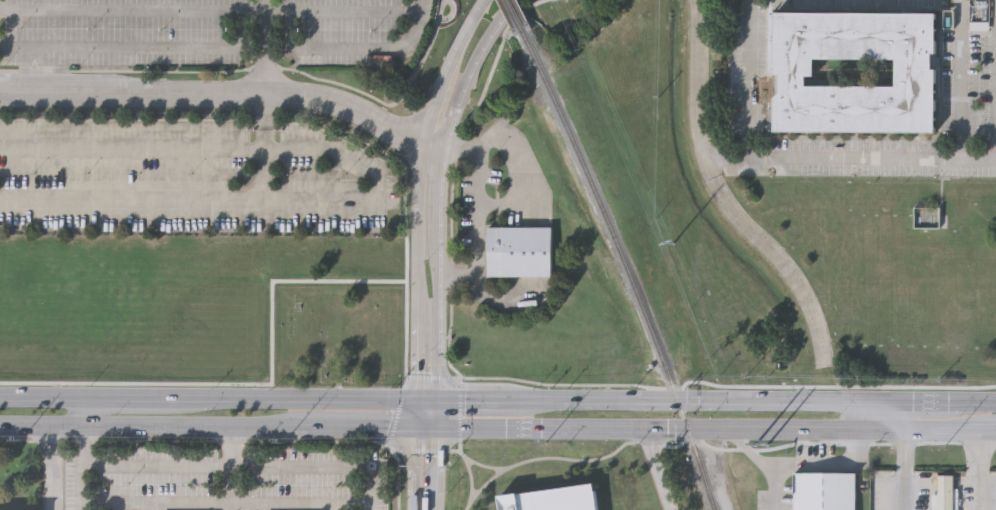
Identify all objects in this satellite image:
road: (209, 11)
railway: (513, 14)
parking lot: (208, 31)
road: (137, 46)
road: (264, 47)
road: (356, 48)
road: (426, 49)
road: (451, 66)
road: (471, 68)
road: (207, 70)
building: (915, 73)
road: (747, 79)
road: (216, 93)
road: (415, 117)
road: (437, 142)
road: (263, 149)
road: (909, 157)
road: (978, 159)
parking lot: (187, 178)
road: (419, 181)
road: (376, 188)
road: (722, 195)
road: (479, 214)
building: (926, 215)
building: (517, 251)
road: (419, 253)
railway: (624, 266)
road: (438, 271)
park: (340, 331)
road: (417, 340)
road: (207, 397)
road: (686, 398)
traffic signals: (415, 399)
road: (424, 399)
traffic signals: (434, 399)
road: (477, 399)
road: (875, 401)
road: (923, 401)
road: (971, 402)
road: (414, 414)
road: (433, 414)
road: (852, 414)
road: (899, 415)
road: (206, 426)
road: (633, 426)
traffic signals: (414, 429)
traffic signals: (433, 429)
road: (875, 429)
road: (937, 429)
road: (985, 429)
road: (81, 431)
road: (228, 464)
road: (802, 464)
road: (50, 467)
road: (246, 467)
road: (659, 468)
road: (412, 469)
road: (431, 469)
road: (899, 469)
road: (975, 469)
road: (772, 487)
road: (81, 488)
building: (825, 490)
building: (943, 493)
building: (551, 499)
road: (225, 502)
road: (116, 506)
road: (331, 506)

